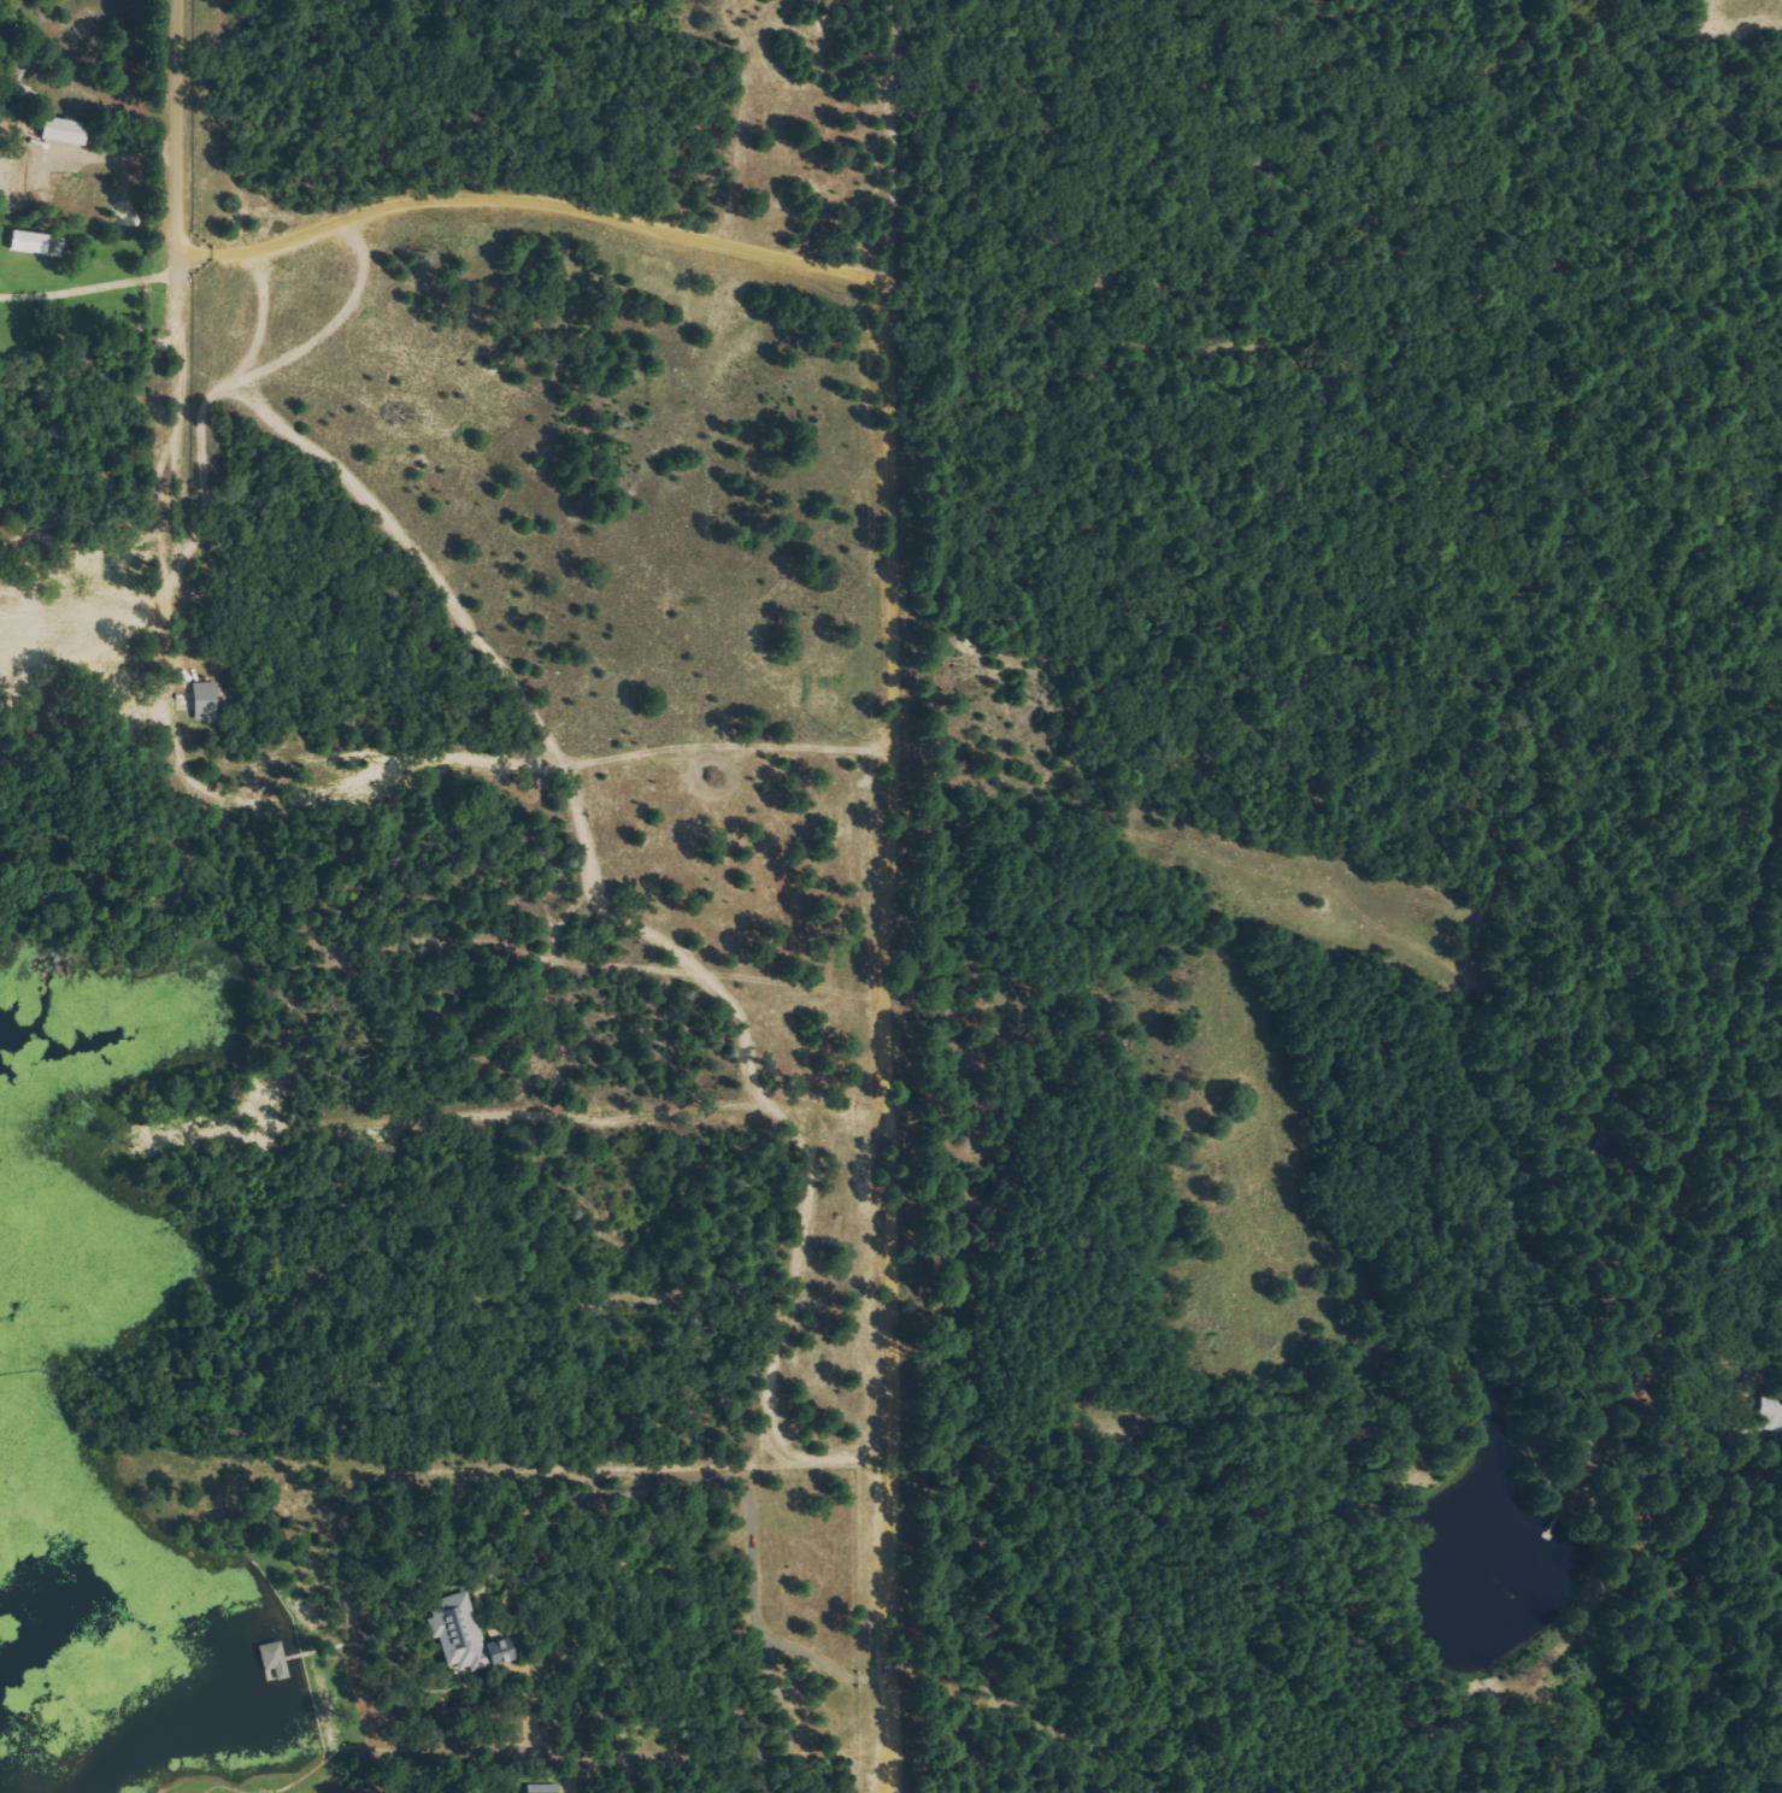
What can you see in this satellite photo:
building: (58, 131)
road: (172, 137)
building: (23, 242)
road: (171, 393)
building: (200, 700)
road: (876, 803)
building: (1592, 1447)
building: (457, 1636)
building: (271, 1659)
building: (536, 1788)

